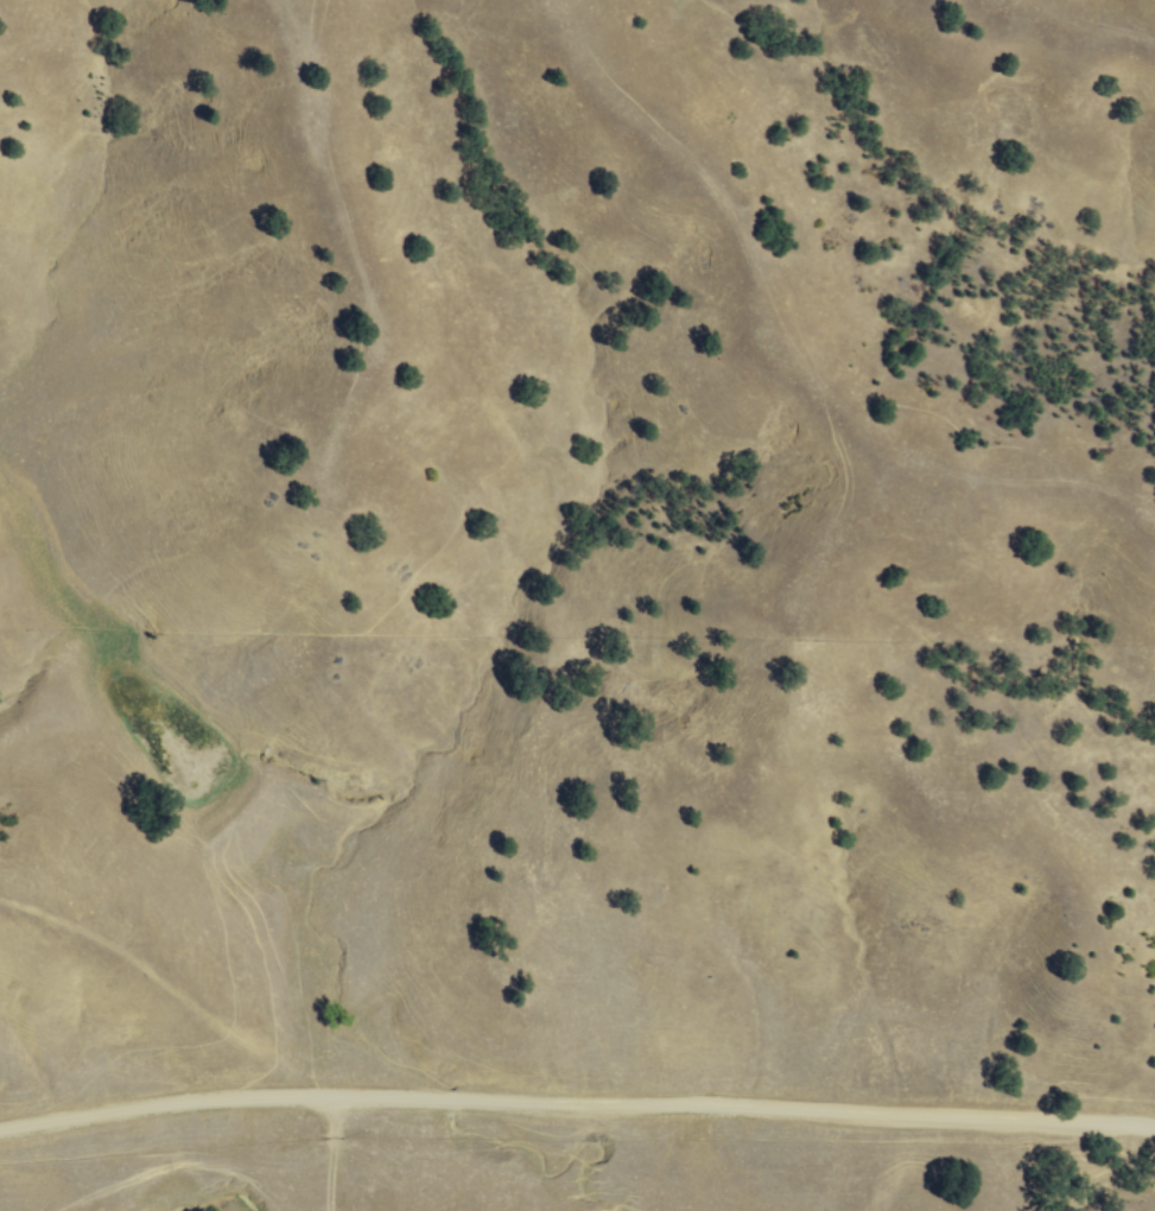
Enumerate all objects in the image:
road: (576, 1103)

